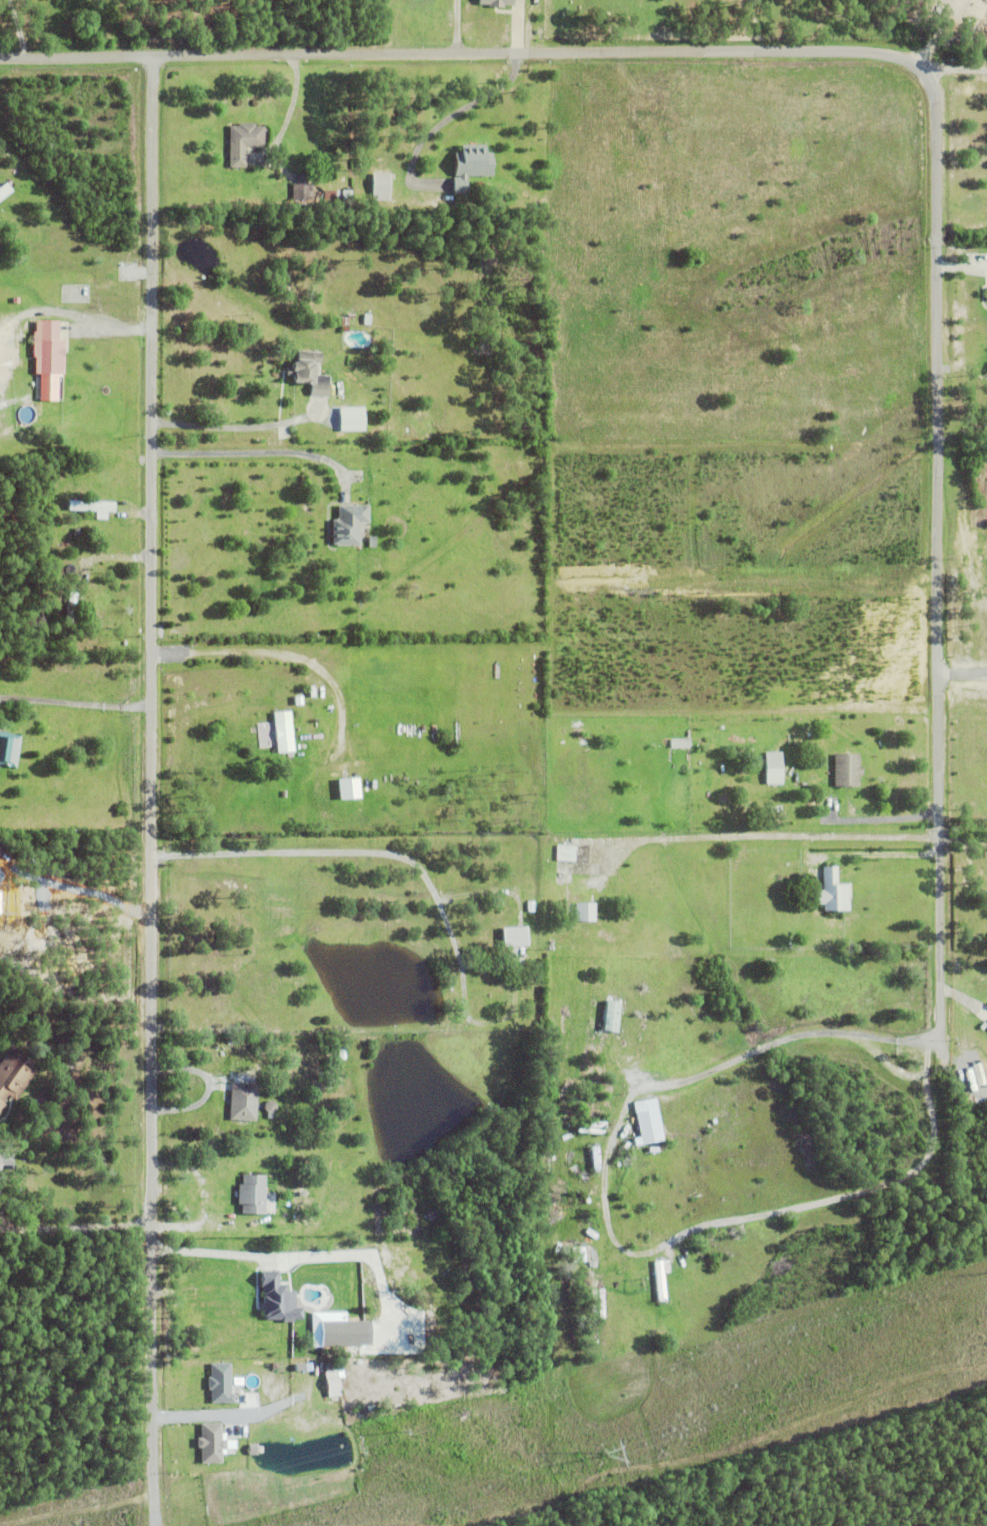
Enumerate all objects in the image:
building: (502, 3)
road: (953, 69)
road: (933, 92)
road: (448, 117)
building: (243, 143)
building: (299, 152)
building: (470, 167)
building: (380, 188)
building: (302, 190)
building: (4, 192)
building: (336, 198)
building: (986, 295)
building: (346, 320)
building: (367, 320)
building: (317, 326)
building: (51, 350)
building: (485, 351)
building: (309, 374)
road: (221, 429)
road: (249, 454)
building: (90, 508)
building: (90, 521)
building: (349, 527)
building: (71, 609)
road: (281, 652)
road: (962, 675)
building: (286, 704)
road: (153, 714)
building: (282, 735)
building: (680, 744)
building: (8, 752)
building: (774, 770)
building: (847, 772)
building: (345, 792)
road: (963, 836)
road: (775, 838)
building: (566, 851)
road: (355, 852)
road: (879, 857)
building: (833, 890)
building: (585, 910)
building: (514, 934)
building: (614, 1015)
building: (605, 1019)
building: (15, 1072)
building: (245, 1101)
building: (648, 1119)
building: (597, 1122)
building: (590, 1129)
building: (651, 1147)
building: (594, 1156)
building: (552, 1158)
building: (565, 1160)
building: (251, 1192)
building: (426, 1202)
building: (434, 1214)
road: (608, 1238)
road: (213, 1252)
building: (582, 1254)
building: (614, 1266)
building: (661, 1277)
building: (607, 1298)
building: (280, 1299)
building: (591, 1299)
building: (600, 1302)
road: (153, 1372)
building: (222, 1382)
building: (334, 1383)
building: (213, 1442)
power tower: (602, 1454)

